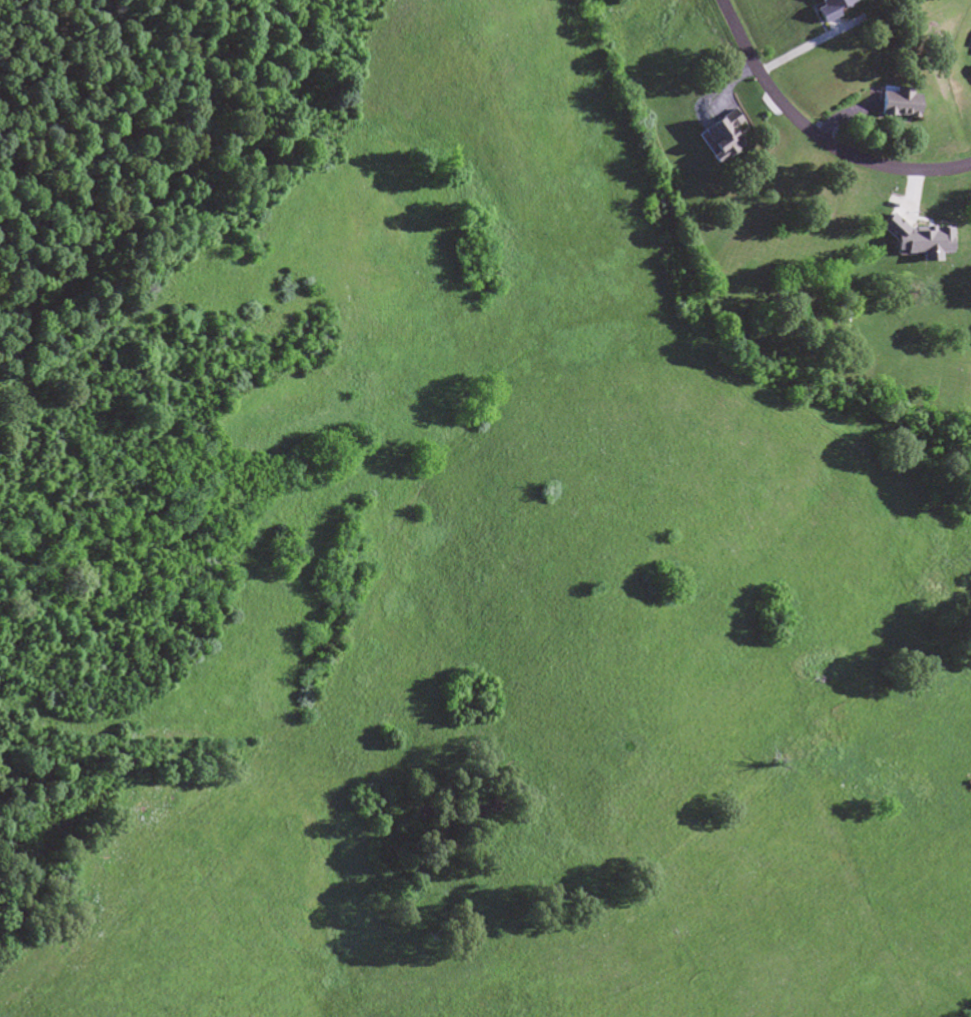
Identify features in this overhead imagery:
building: (824, 10)
building: (969, 76)
building: (892, 105)
building: (722, 130)
road: (815, 134)

